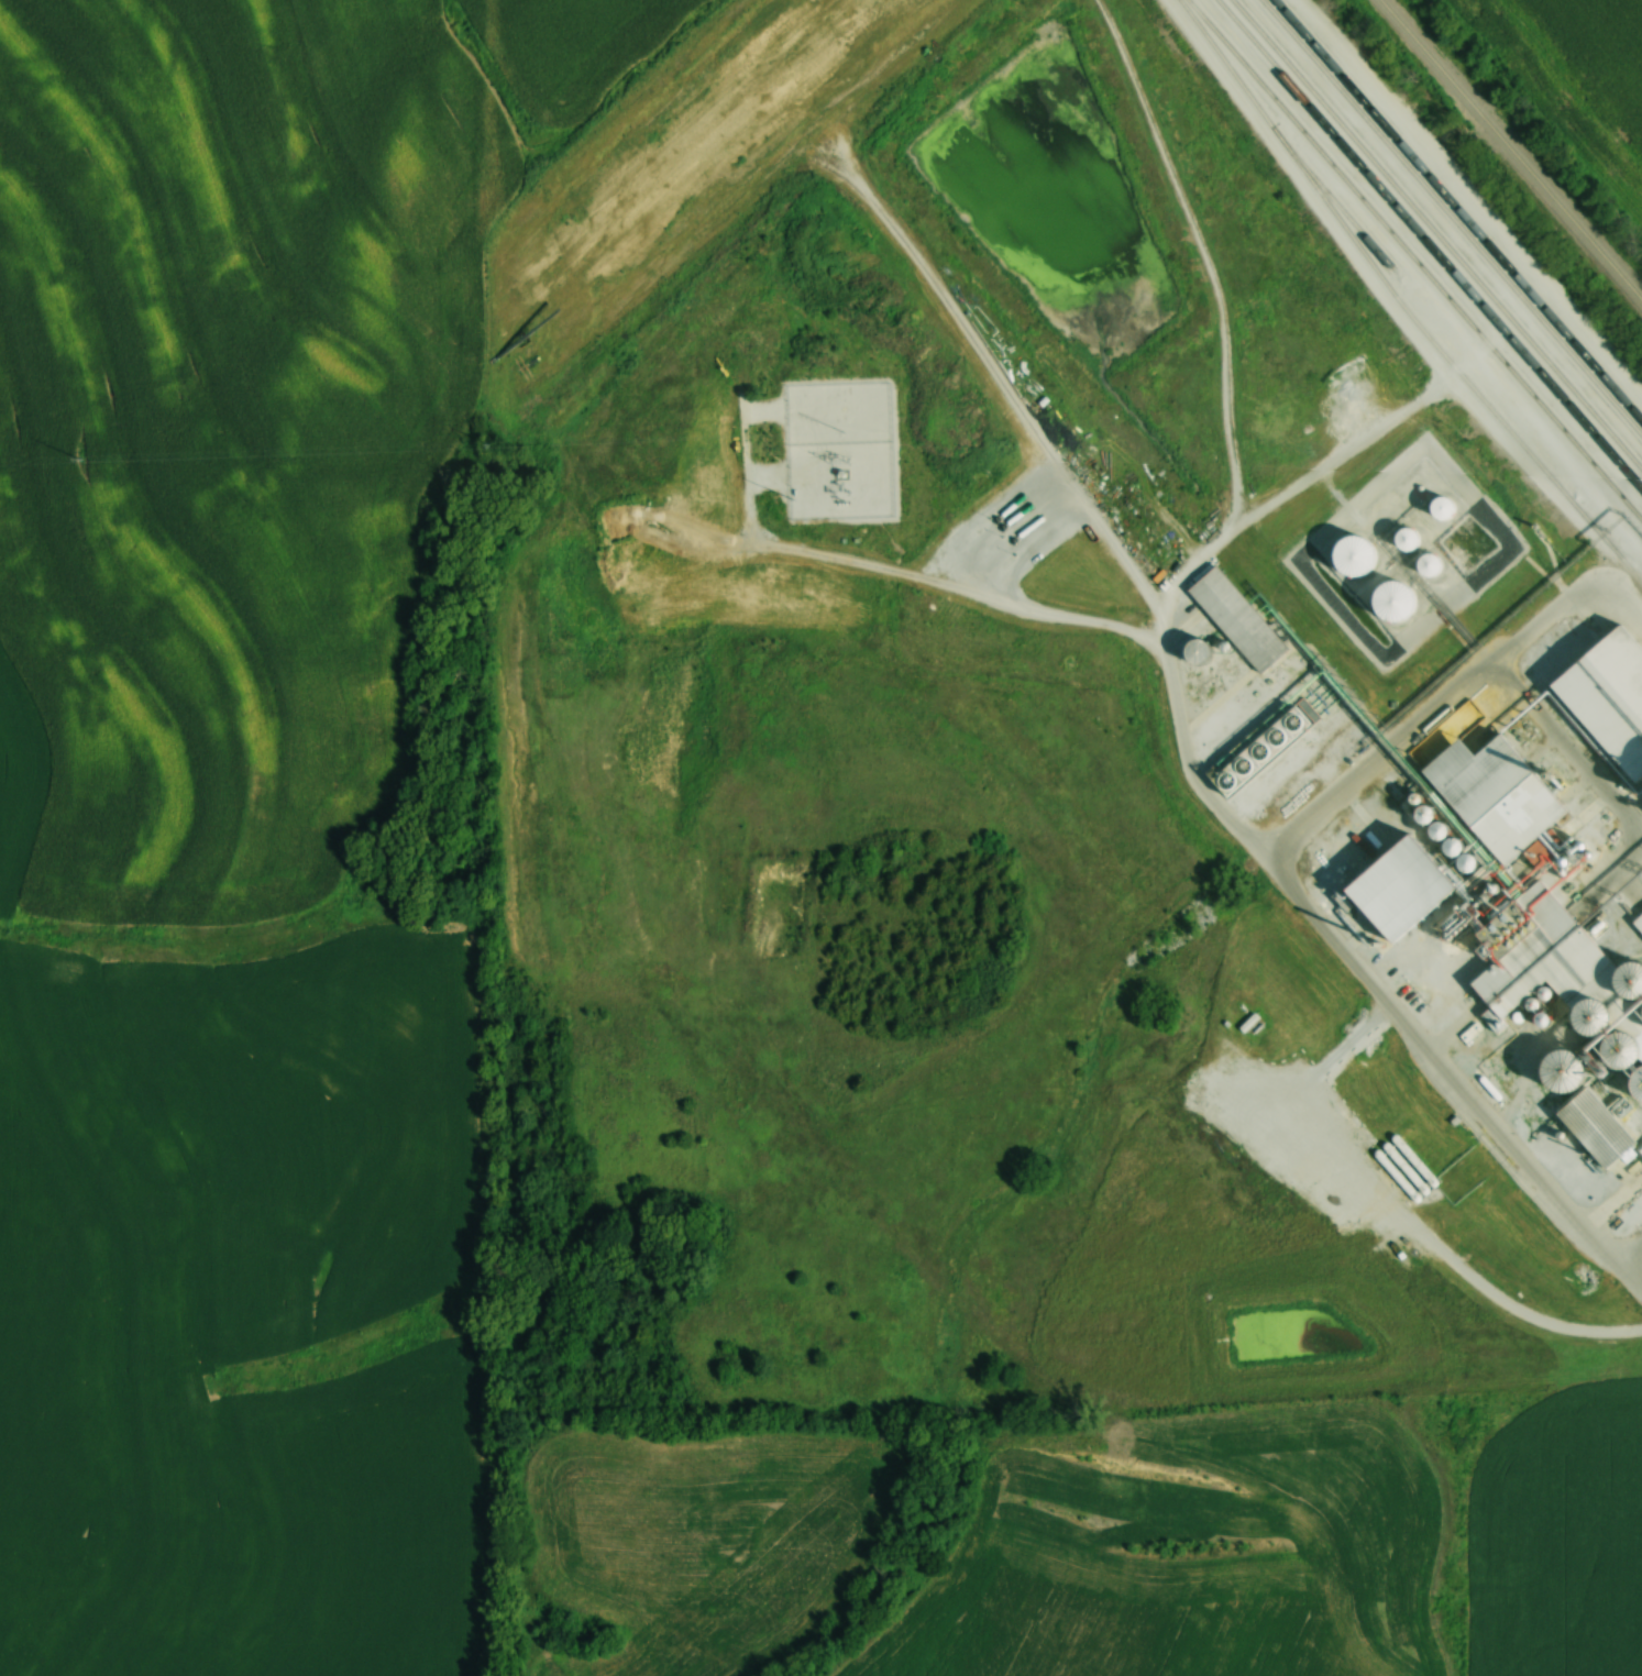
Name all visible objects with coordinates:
railway: (1509, 152)
building: (1401, 538)
building: (1349, 555)
building: (1424, 563)
building: (1389, 602)
building: (1242, 622)
road: (1452, 698)
building: (1607, 702)
road: (1565, 752)
road: (1187, 761)
building: (1502, 873)
building: (1403, 895)
road: (1535, 945)
building: (1591, 1124)
building: (1409, 1164)
road: (1635, 1260)

